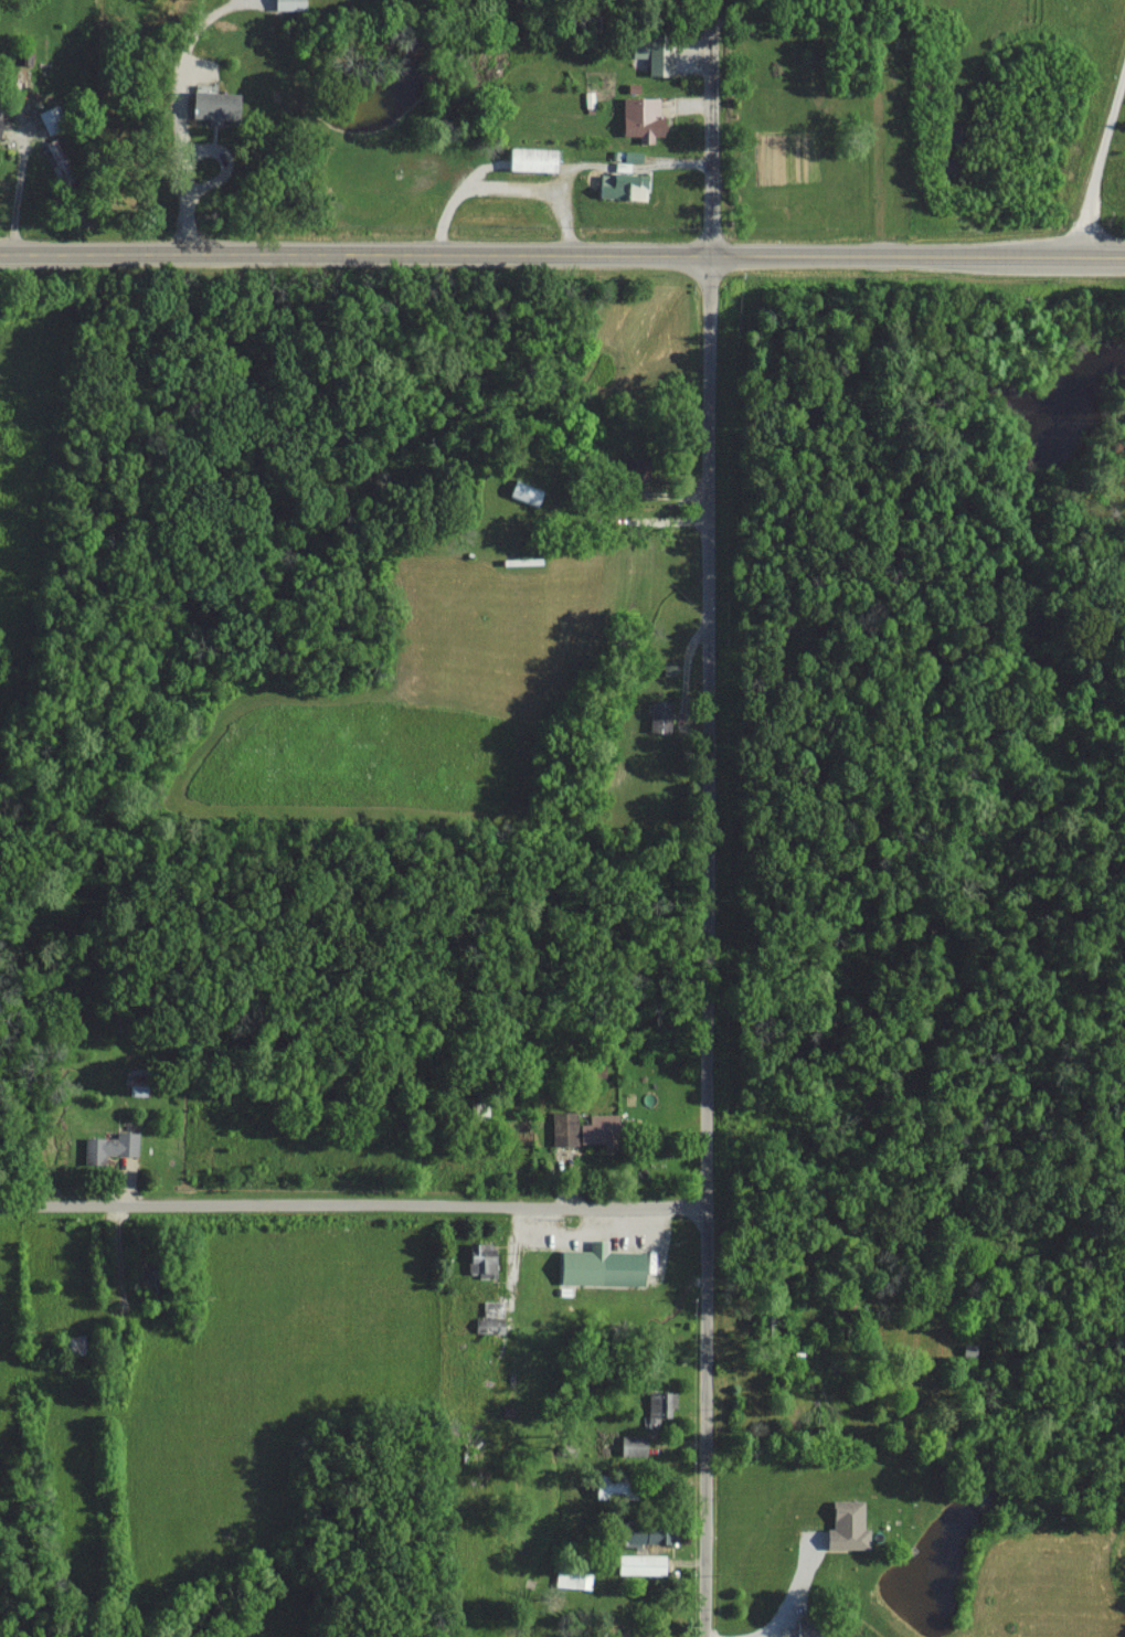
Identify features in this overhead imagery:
building: (290, 4)
building: (655, 54)
building: (216, 105)
building: (0, 117)
building: (643, 117)
building: (533, 158)
road: (185, 166)
road: (1100, 166)
building: (624, 184)
road: (17, 192)
road: (562, 252)
building: (635, 468)
building: (527, 491)
building: (661, 715)
road: (712, 818)
building: (586, 1129)
building: (110, 1147)
road: (355, 1205)
building: (484, 1259)
building: (603, 1266)
building: (493, 1308)
building: (490, 1325)
building: (660, 1406)
building: (634, 1445)
building: (615, 1488)
building: (849, 1526)
building: (651, 1534)
building: (643, 1564)
building: (574, 1578)
road: (798, 1592)

